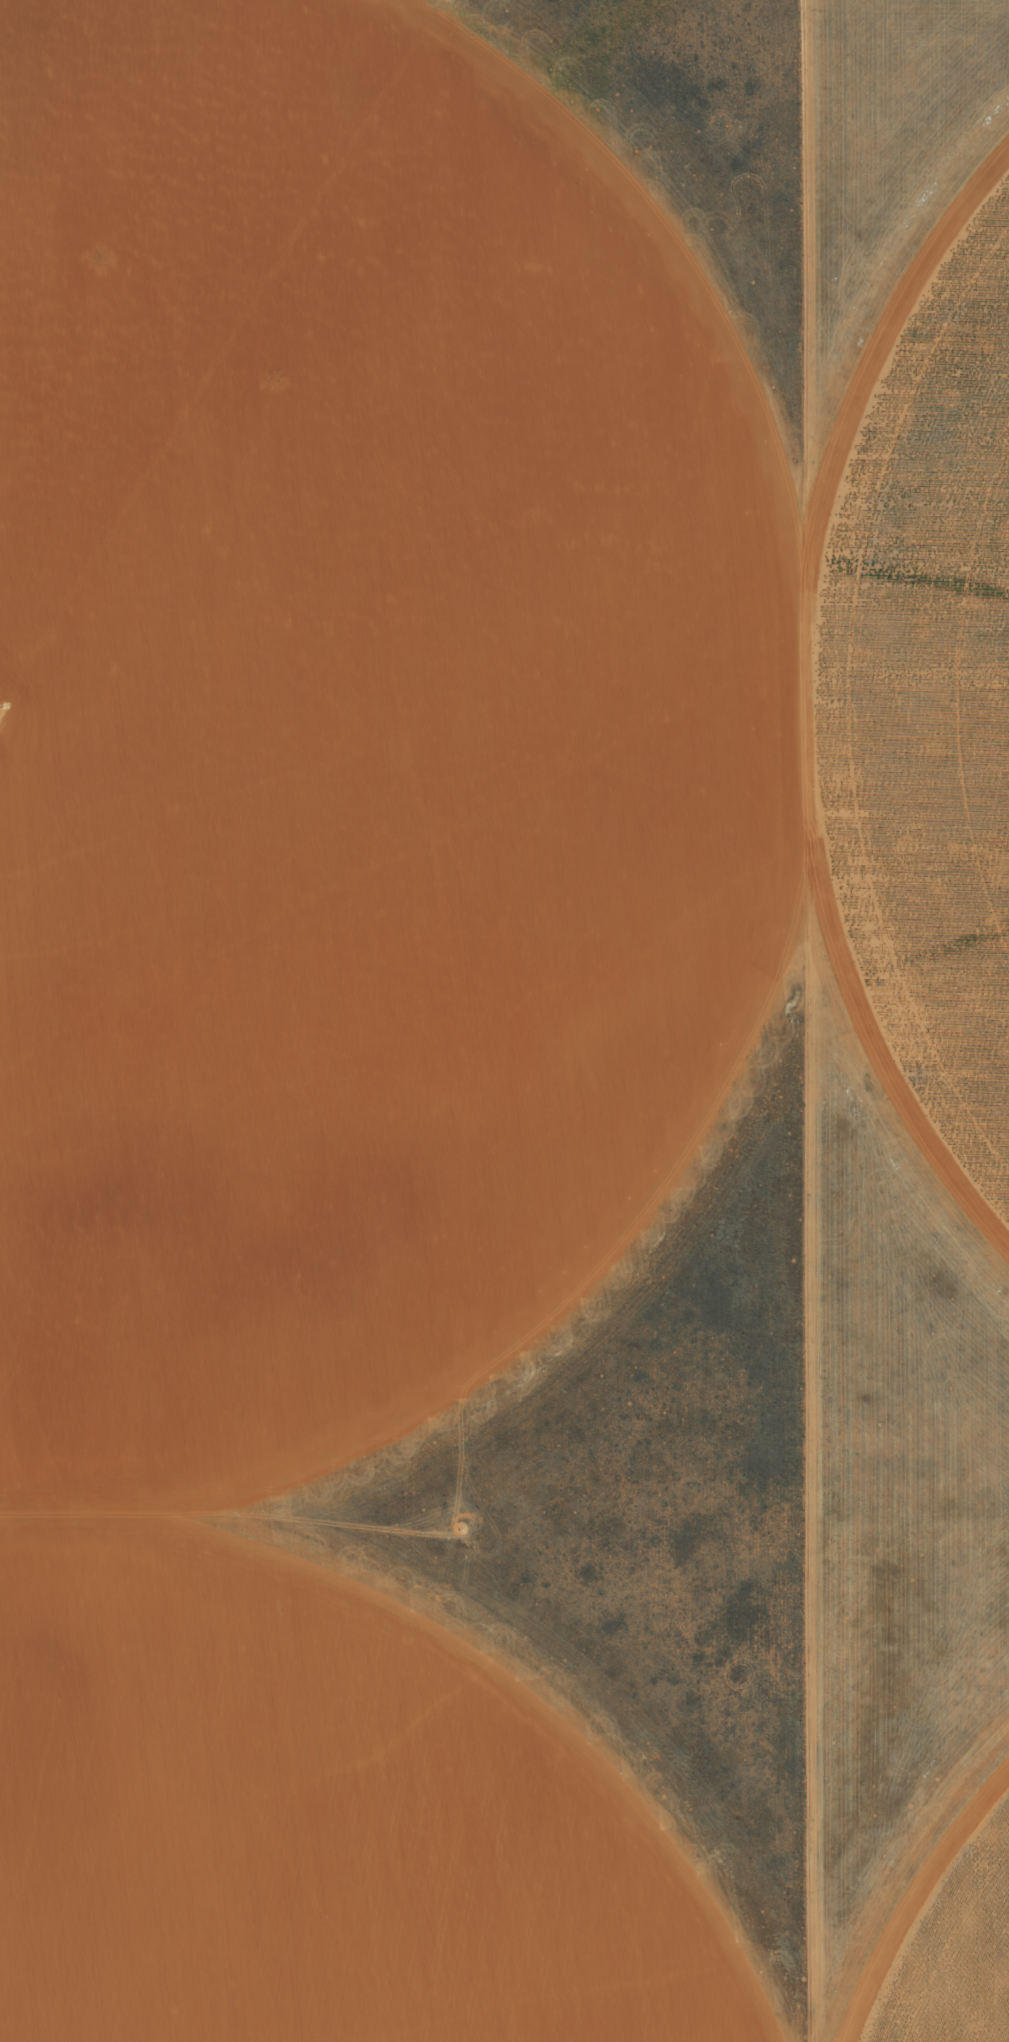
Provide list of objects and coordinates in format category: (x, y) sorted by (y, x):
road: (819, 1021)

